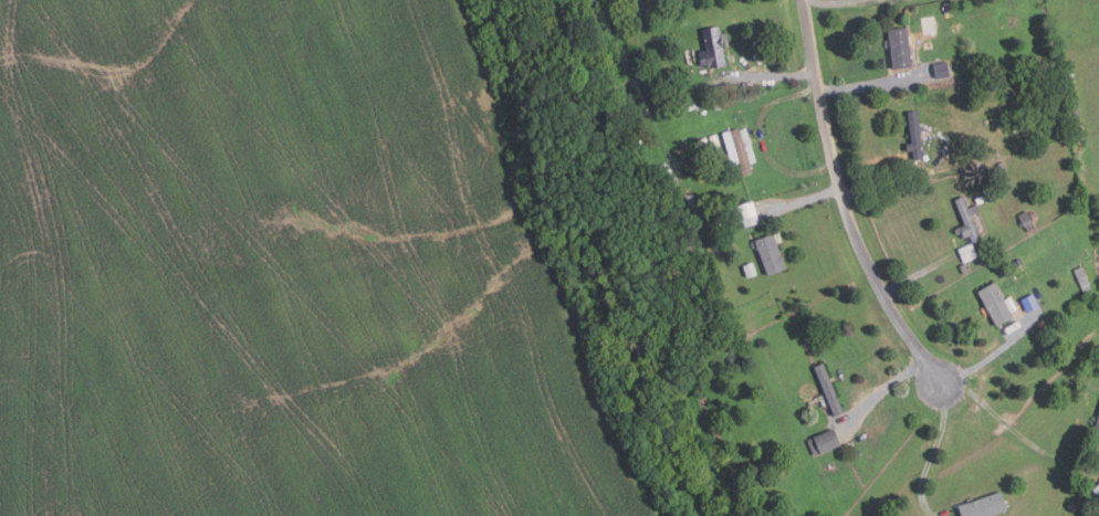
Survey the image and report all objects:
building: (647, 0)
road: (839, 3)
building: (946, 8)
building: (596, 15)
building: (956, 28)
building: (900, 48)
building: (713, 49)
building: (940, 70)
building: (1071, 75)
road: (768, 76)
building: (681, 81)
road: (875, 85)
building: (1072, 85)
road: (783, 98)
building: (1075, 98)
building: (703, 103)
building: (1076, 110)
building: (915, 136)
building: (762, 138)
building: (743, 149)
building: (1002, 167)
building: (920, 172)
road: (871, 191)
road: (799, 199)
building: (692, 200)
road: (842, 201)
building: (742, 212)
building: (969, 219)
building: (1028, 220)
building: (967, 253)
building: (771, 255)
building: (1018, 262)
building: (964, 268)
building: (1003, 273)
road: (919, 274)
building: (1082, 277)
building: (996, 304)
road: (995, 354)
building: (829, 389)
road: (882, 392)
road: (997, 415)
building: (1097, 428)
building: (824, 442)
road: (932, 452)
building: (1097, 491)
building: (984, 506)
building: (1072, 507)

